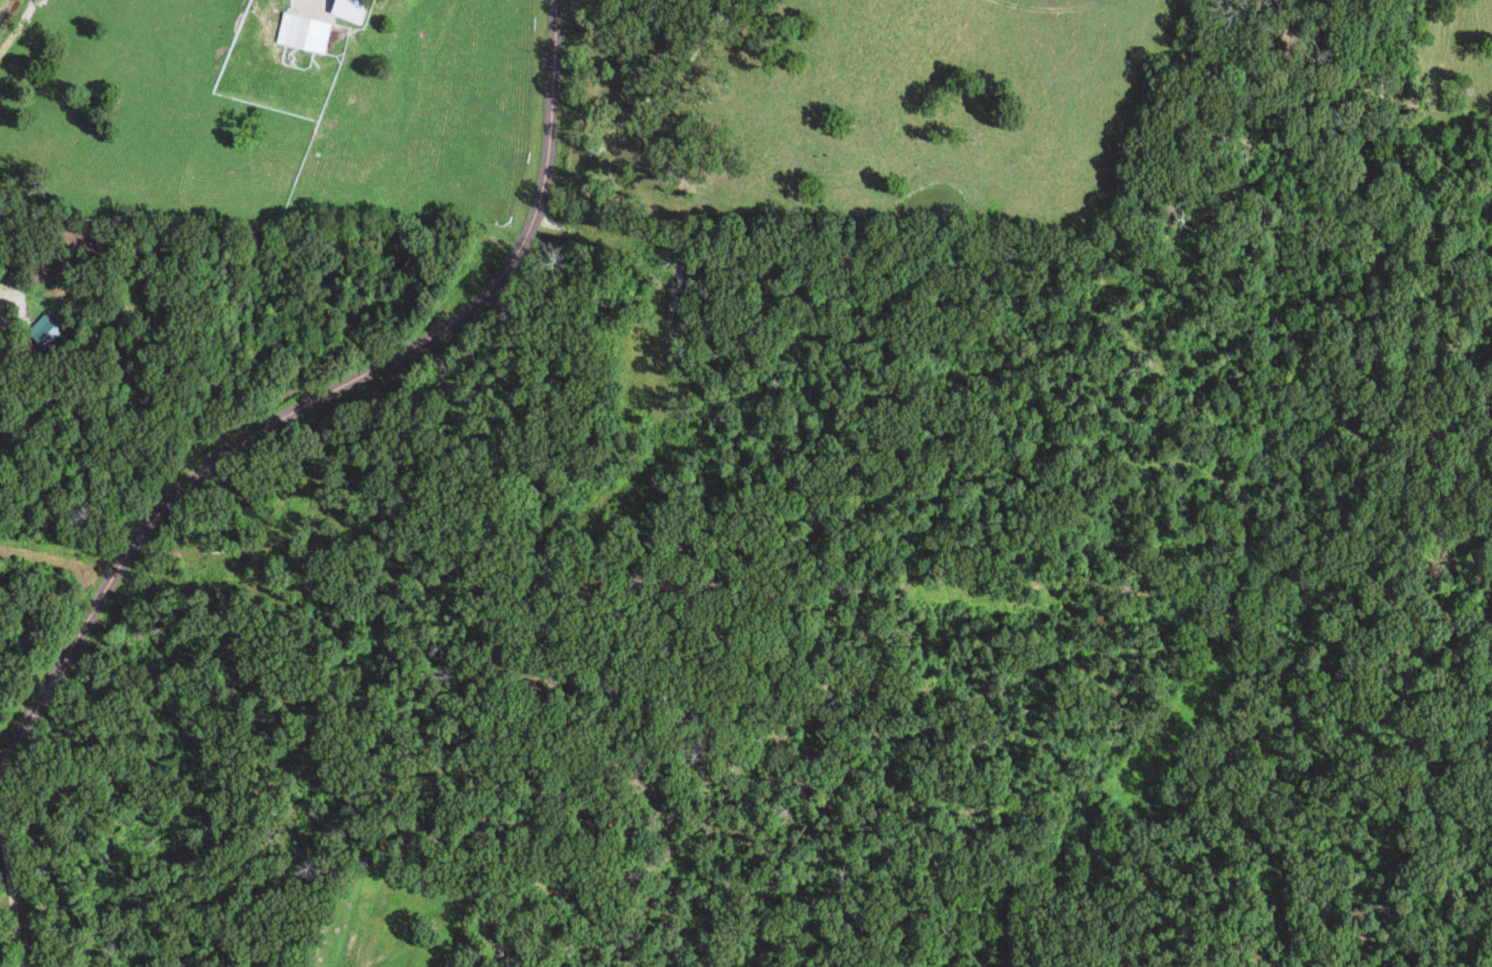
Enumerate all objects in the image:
building: (298, 0)
building: (303, 37)
road: (12, 311)
road: (324, 396)
road: (12, 897)
road: (20, 962)
road: (24, 962)

